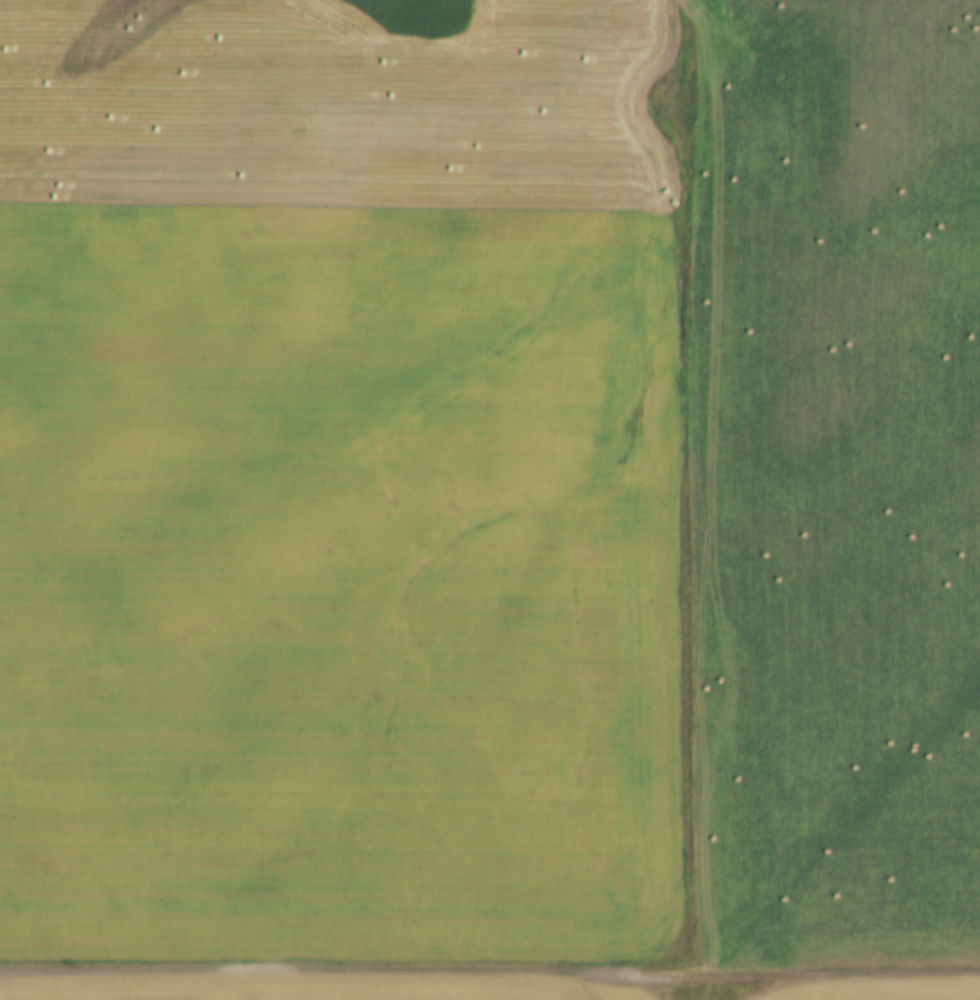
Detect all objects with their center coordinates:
road: (490, 968)
road: (705, 984)

